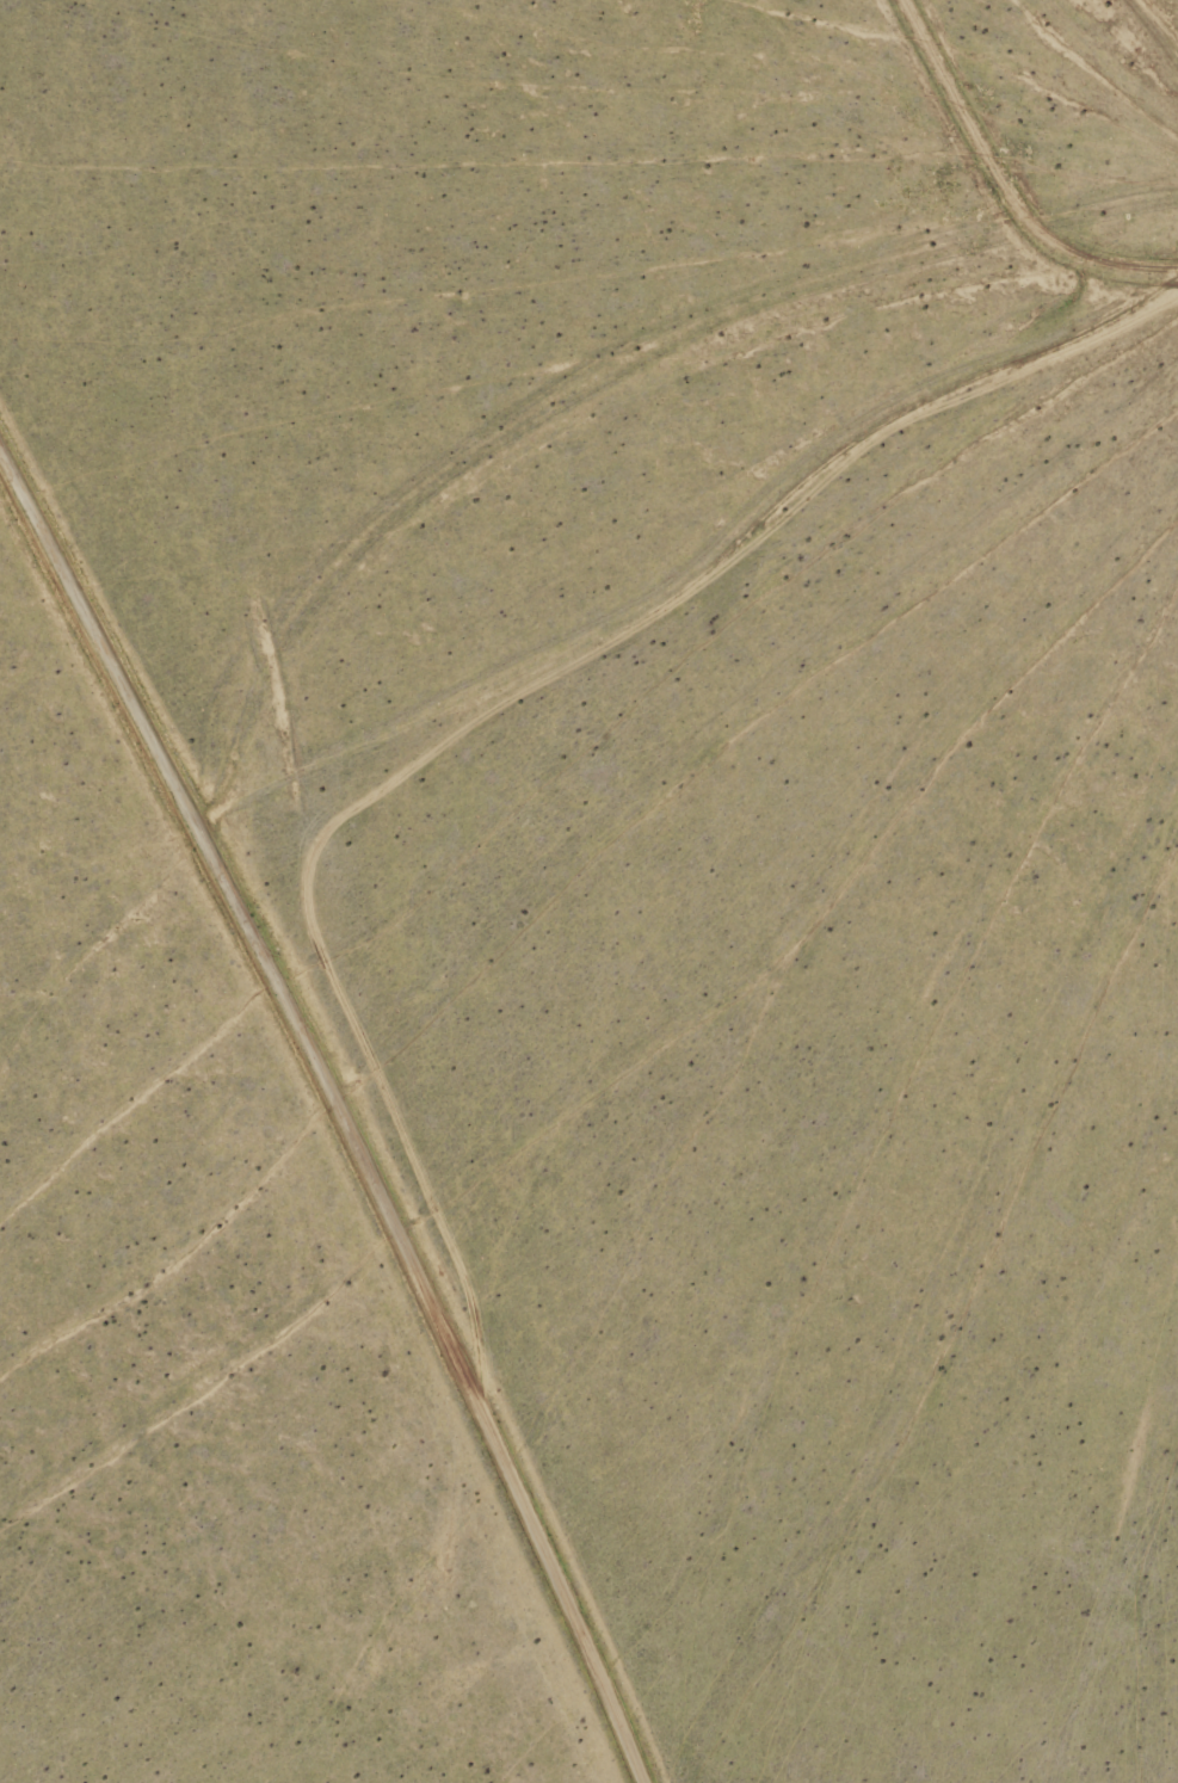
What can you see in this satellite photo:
road: (1137, 33)
road: (232, 749)
road: (341, 1102)

